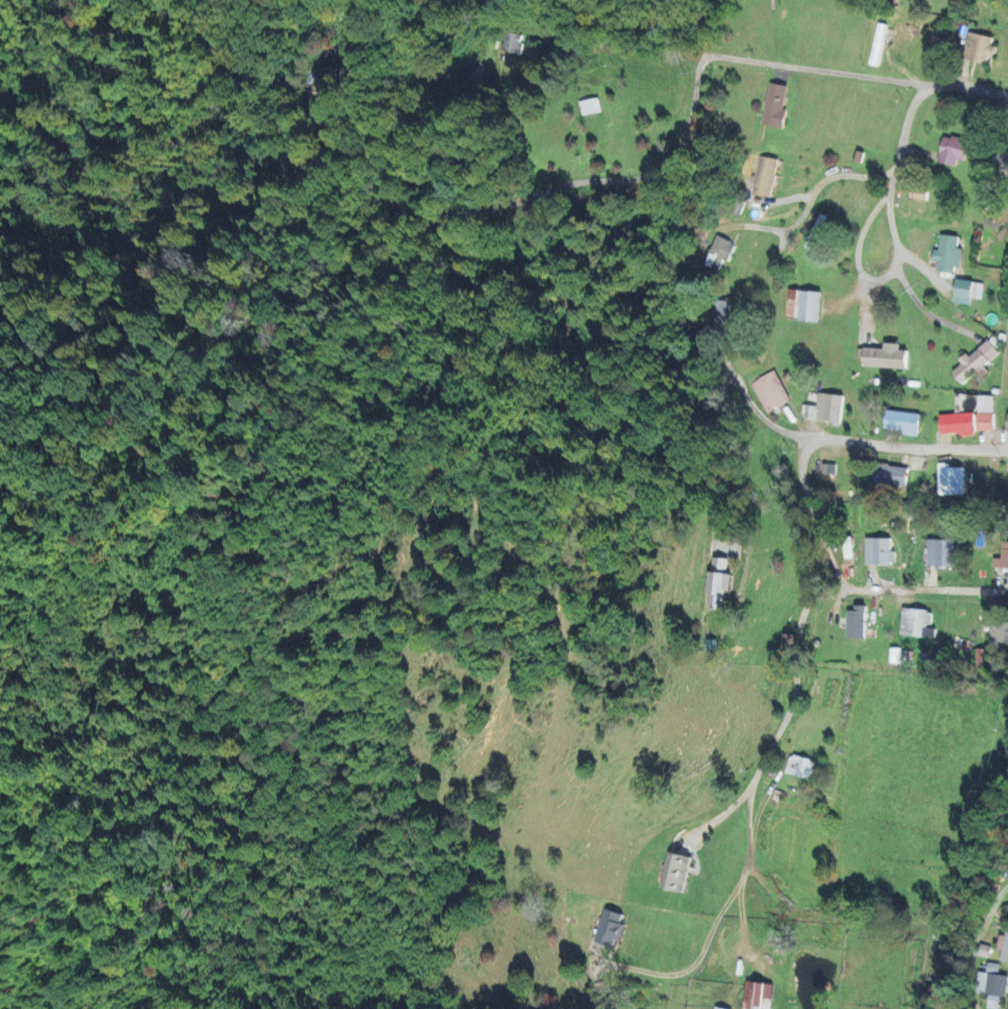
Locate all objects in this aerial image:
building: (511, 42)
building: (876, 44)
building: (935, 44)
road: (603, 46)
building: (978, 48)
building: (325, 78)
building: (590, 106)
building: (774, 106)
road: (903, 123)
building: (951, 150)
building: (1001, 159)
road: (672, 169)
building: (764, 176)
road: (817, 186)
road: (890, 195)
building: (815, 232)
road: (857, 244)
building: (718, 252)
building: (947, 254)
building: (965, 291)
building: (802, 305)
building: (723, 314)
building: (882, 357)
building: (974, 362)
building: (768, 391)
building: (824, 408)
road: (755, 410)
building: (984, 412)
building: (900, 420)
building: (1006, 422)
building: (956, 423)
road: (905, 446)
building: (826, 468)
building: (888, 474)
building: (950, 479)
building: (846, 547)
building: (877, 551)
building: (939, 552)
building: (1001, 556)
building: (717, 581)
road: (845, 588)
building: (855, 622)
building: (915, 622)
building: (998, 631)
building: (785, 640)
building: (982, 658)
road: (783, 717)
building: (799, 766)
building: (674, 872)
building: (608, 927)
building: (1003, 946)
road: (994, 958)
road: (696, 961)
building: (991, 984)
building: (756, 995)
building: (717, 1007)

